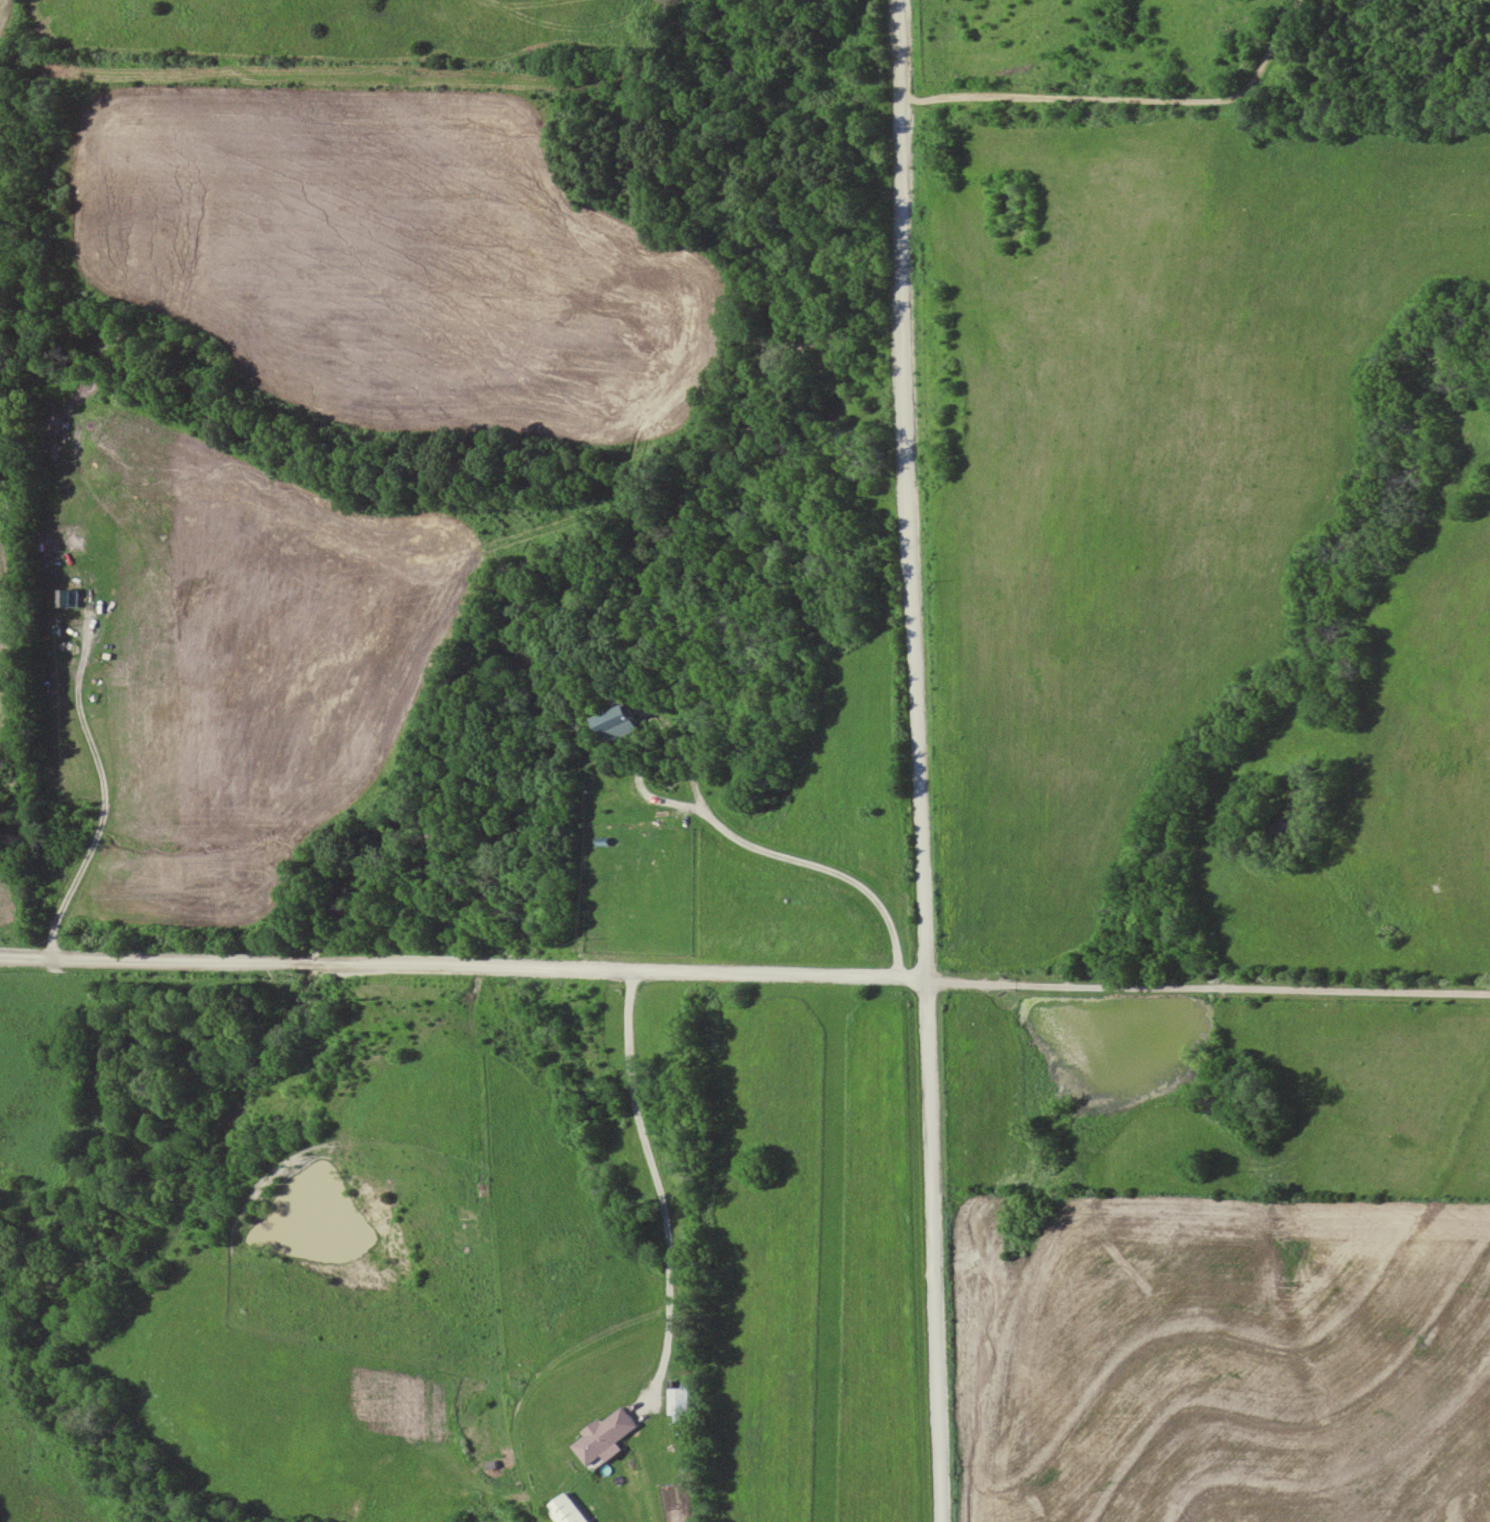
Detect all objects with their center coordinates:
road: (1123, 99)
building: (68, 598)
building: (622, 719)
road: (915, 761)
road: (105, 769)
road: (637, 775)
road: (817, 868)
road: (460, 967)
road: (1205, 988)
road: (642, 1155)
building: (682, 1400)
building: (608, 1437)
road: (560, 1438)
building: (569, 1509)

